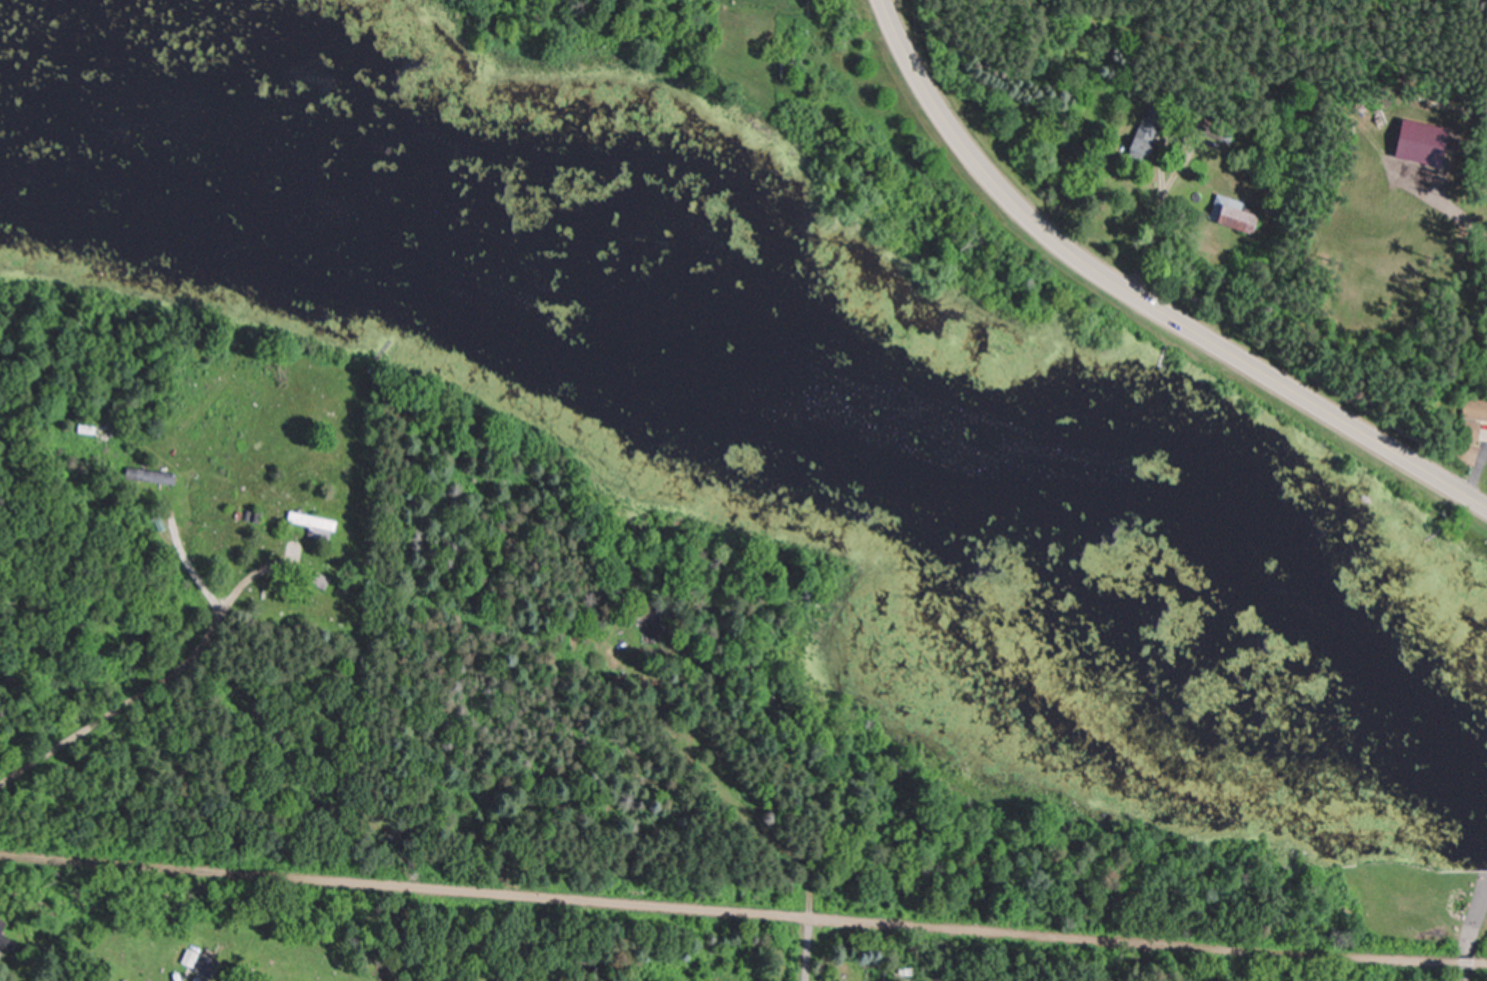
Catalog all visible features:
building: (1137, 148)
building: (1232, 215)
road: (1150, 227)
road: (1138, 301)
building: (1471, 414)
building: (311, 524)
road: (155, 679)
dam: (1468, 863)
road: (727, 911)
road: (809, 913)
road: (1470, 935)
building: (7, 937)
building: (202, 963)
road: (1464, 963)
road: (1480, 963)

